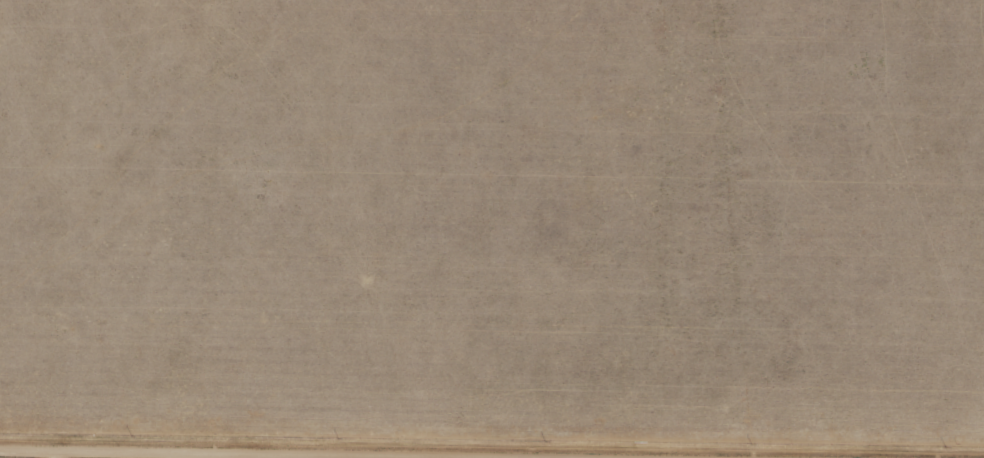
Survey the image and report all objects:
road: (189, 455)

